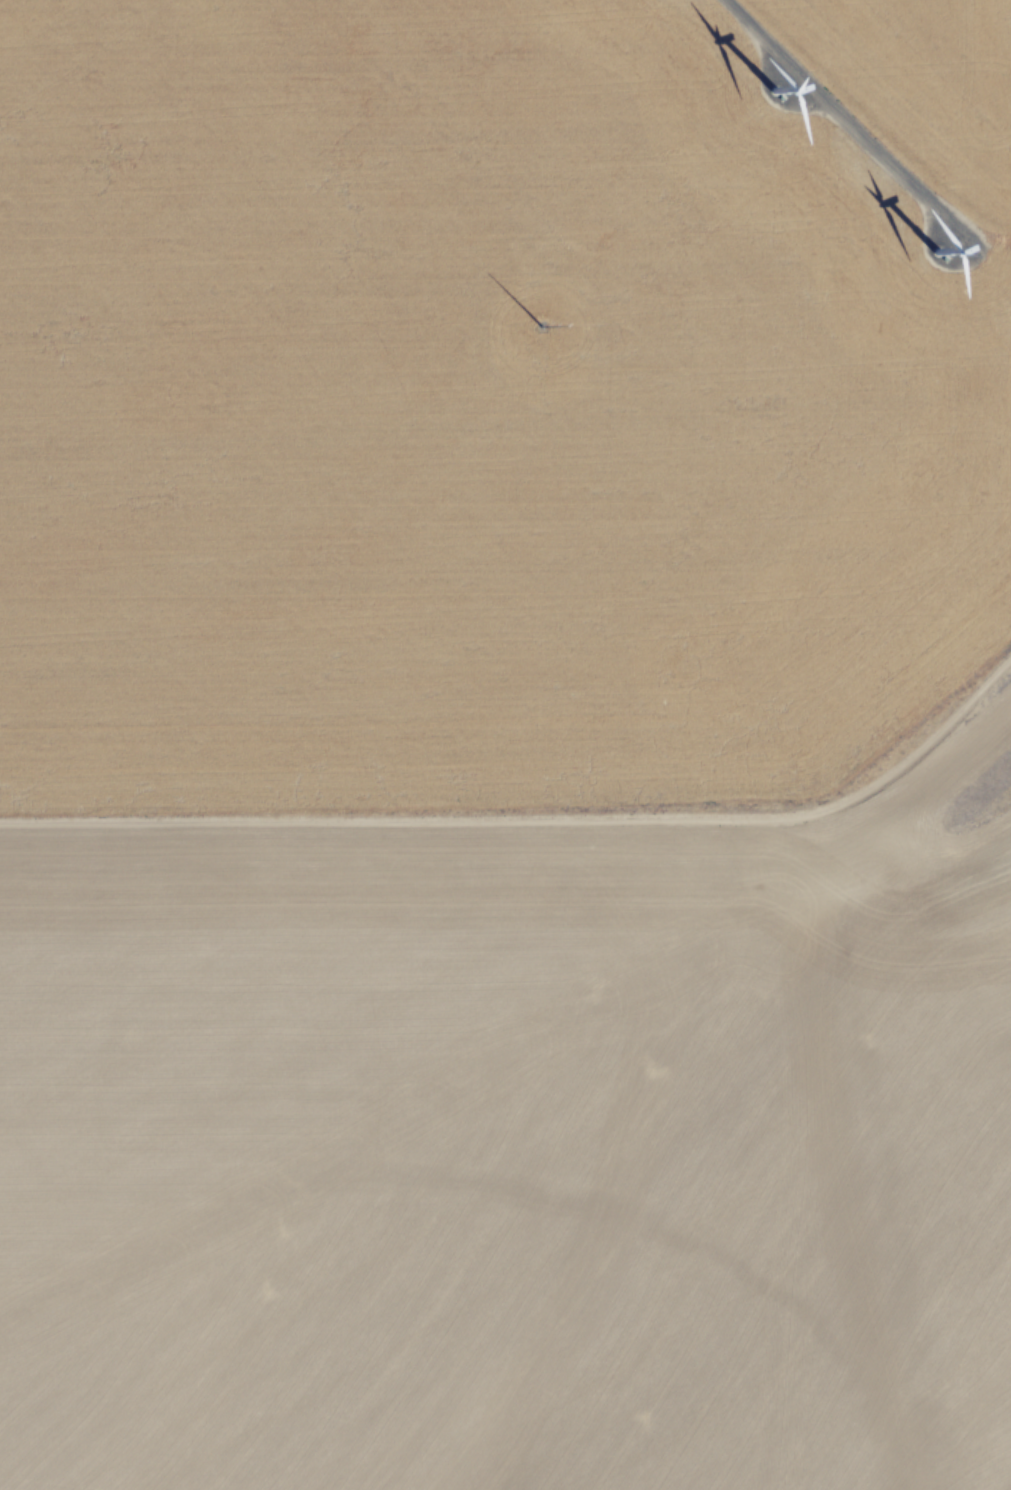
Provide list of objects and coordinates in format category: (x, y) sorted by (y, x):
wind turbine: (788, 87)
road: (851, 125)
wind turbine: (952, 246)

